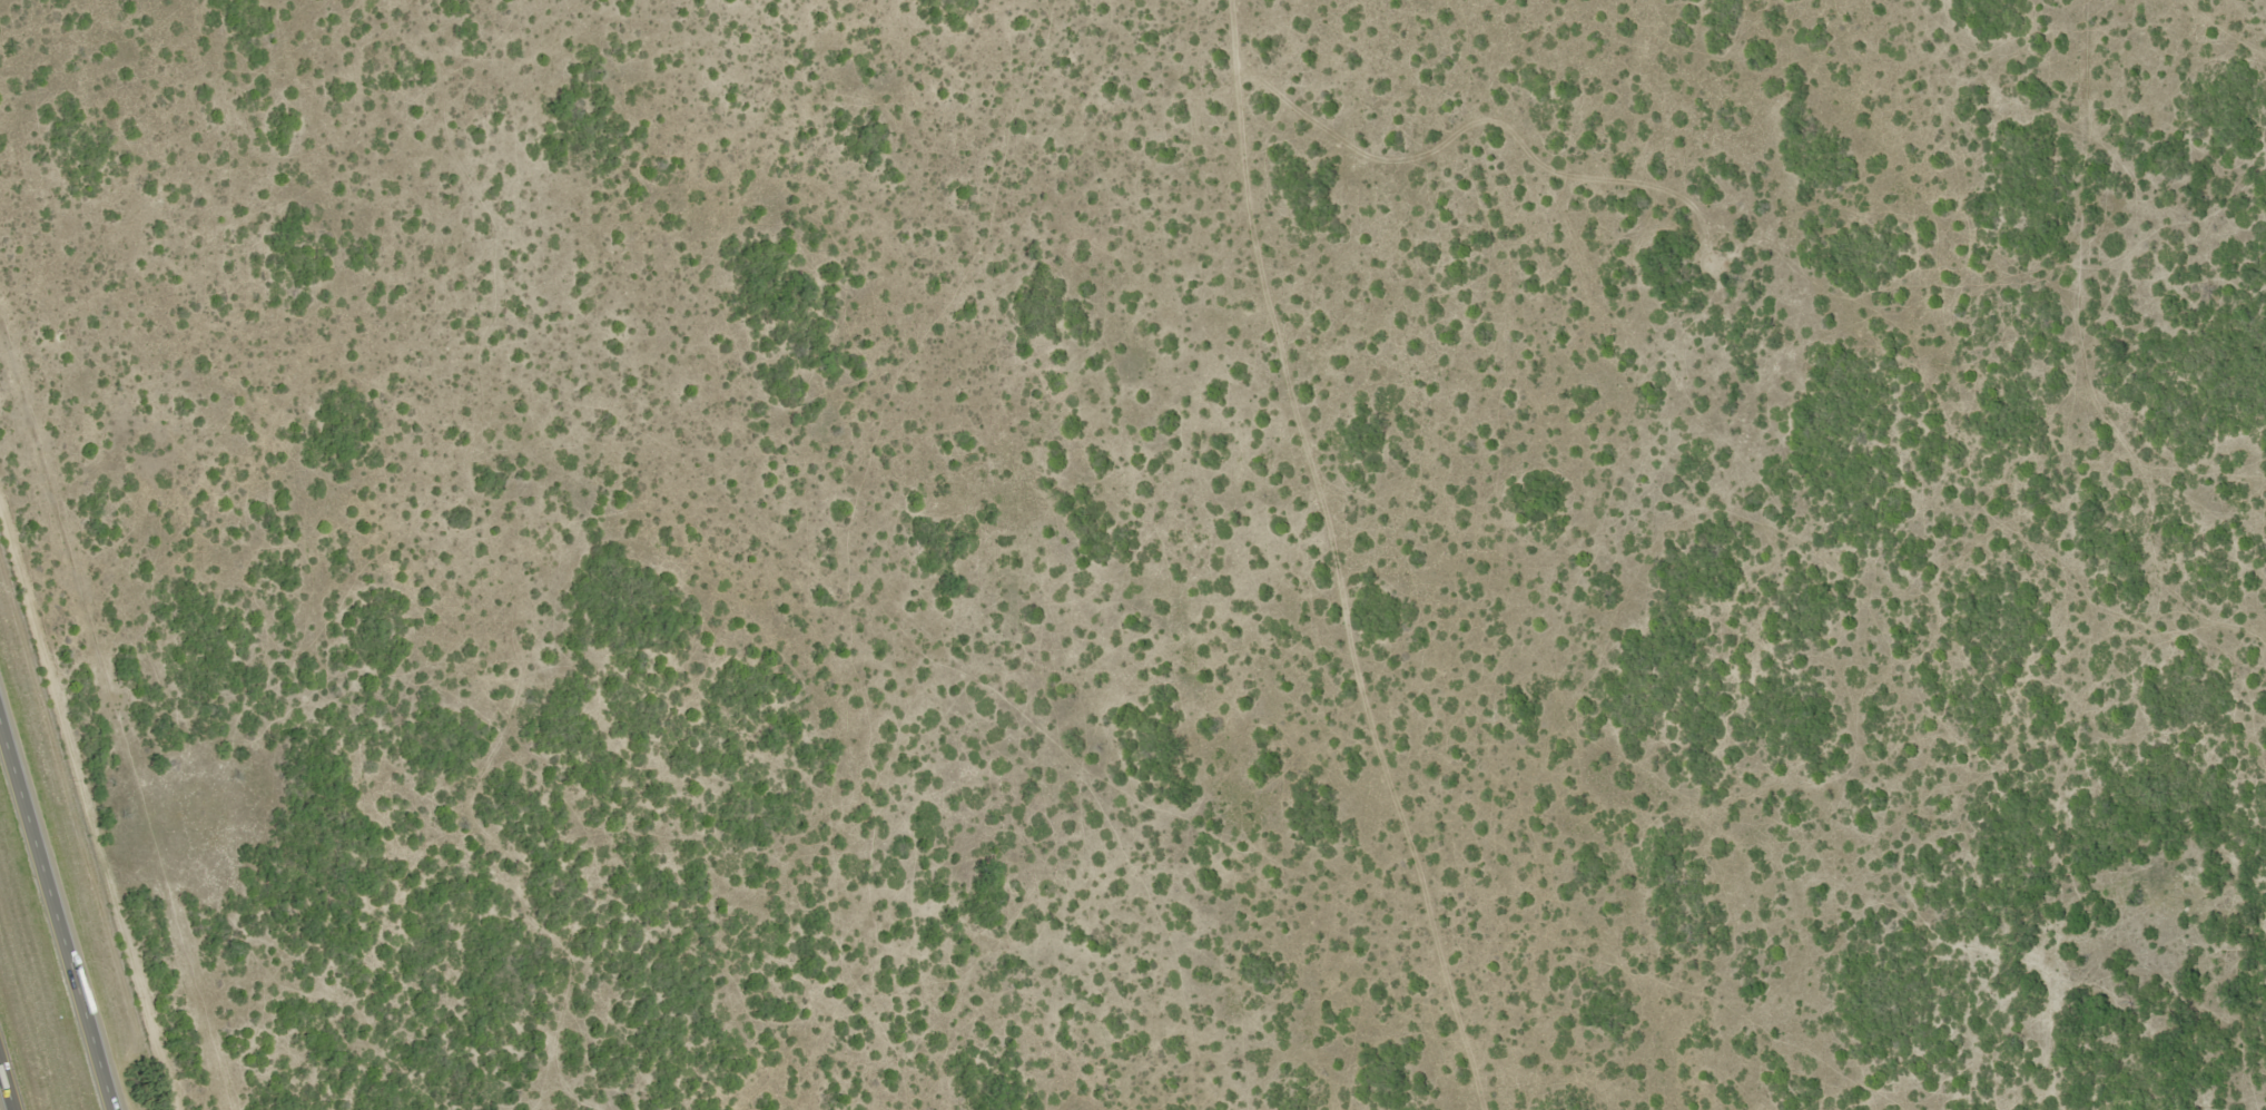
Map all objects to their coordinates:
road: (59, 907)
road: (9, 1078)

